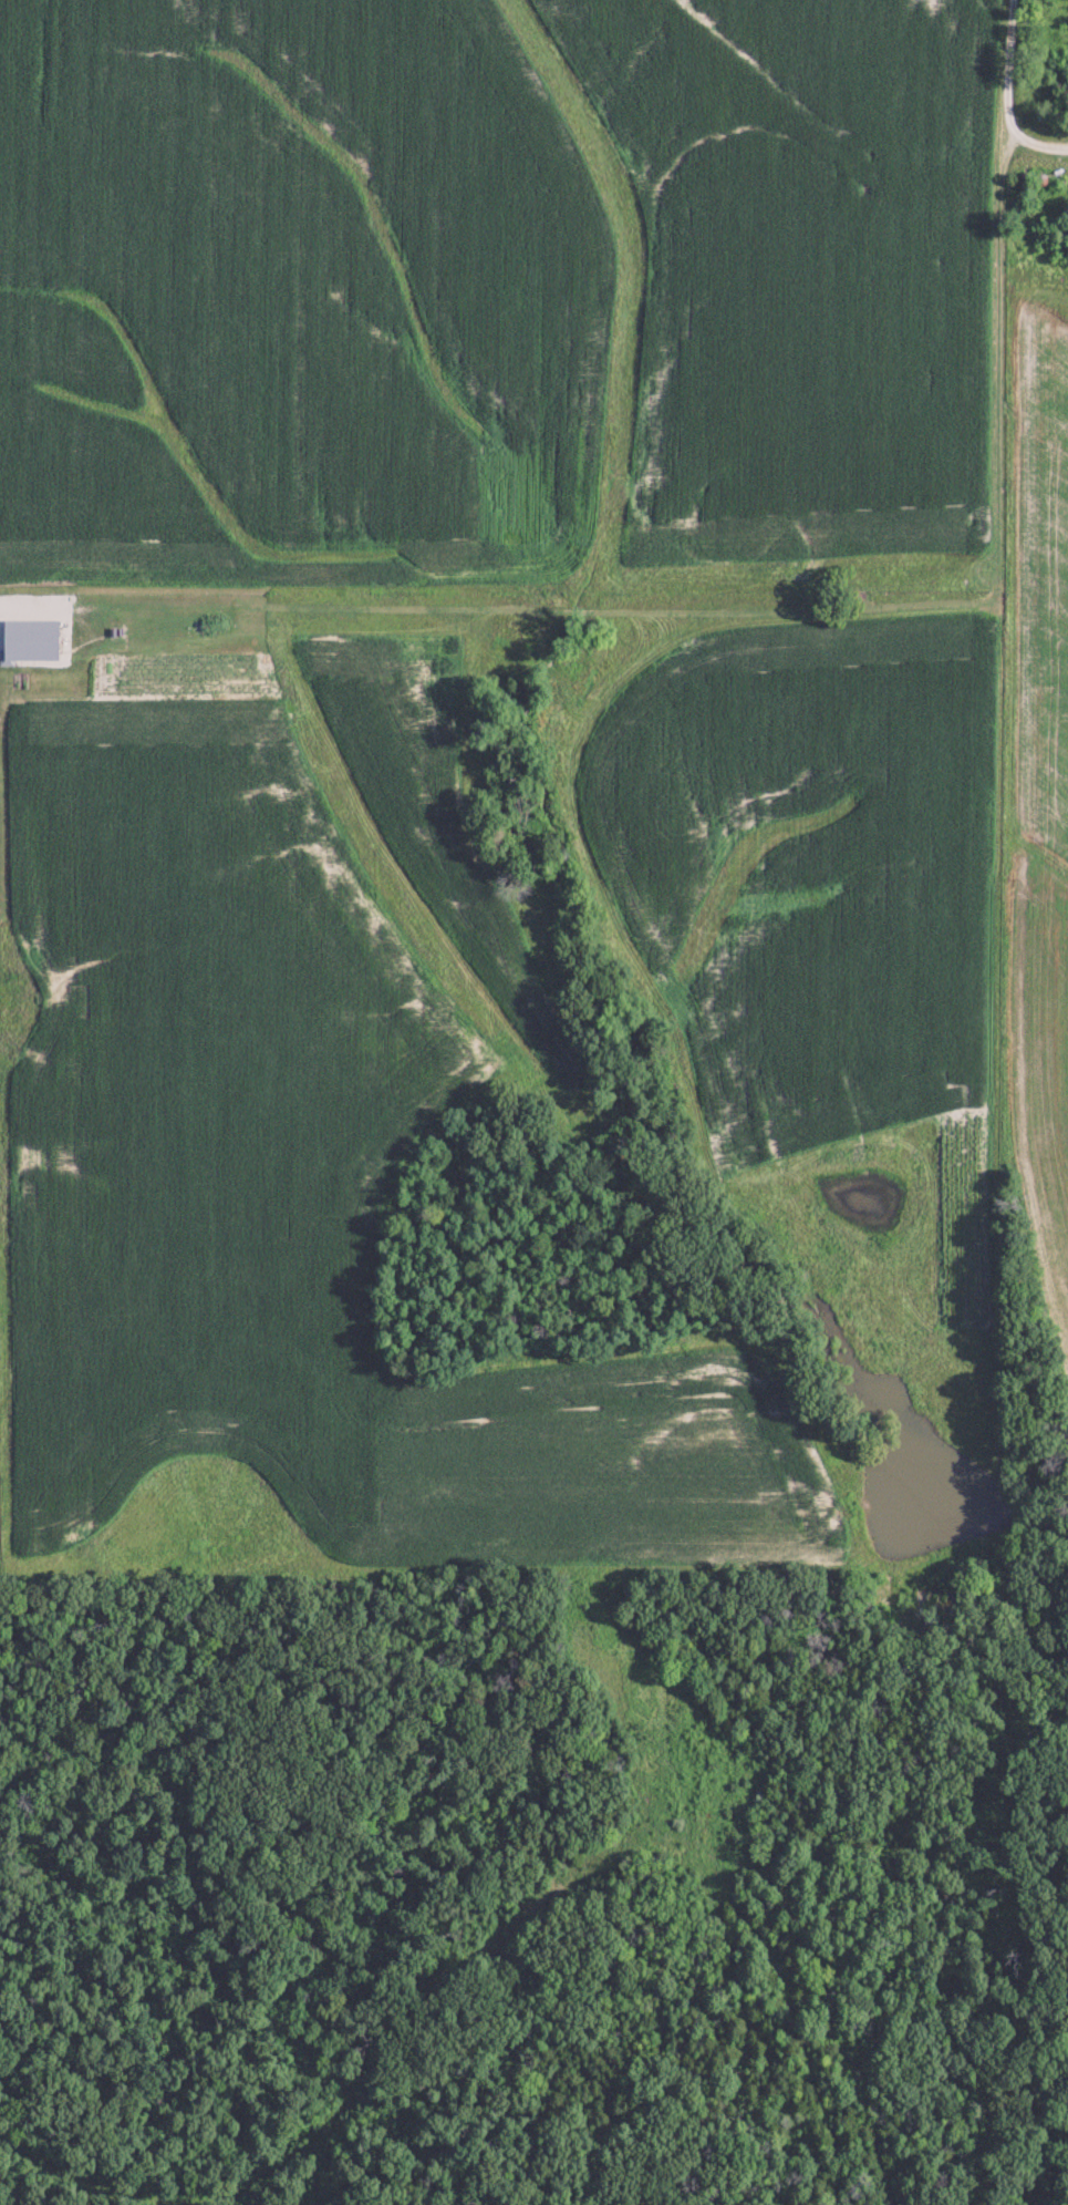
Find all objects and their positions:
building: (34, 639)

